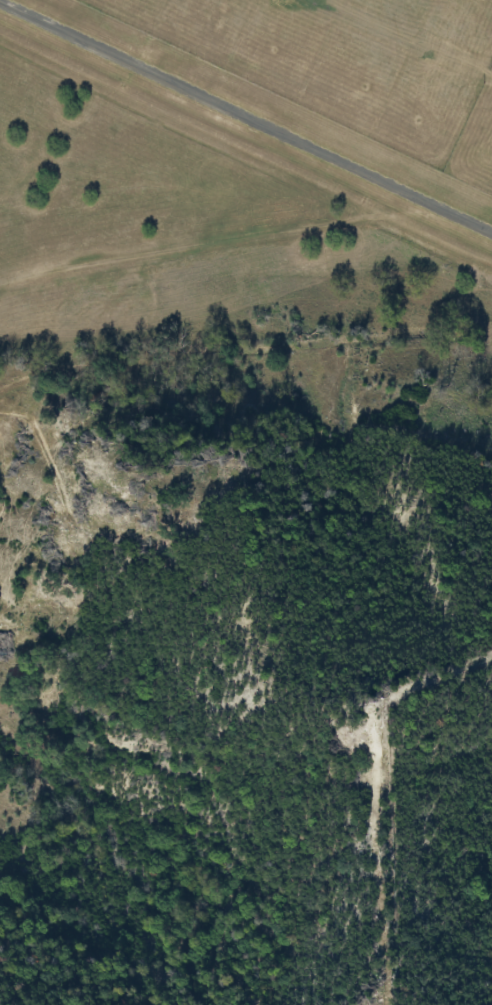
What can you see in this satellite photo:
airport runway: (248, 113)
road: (227, 239)

